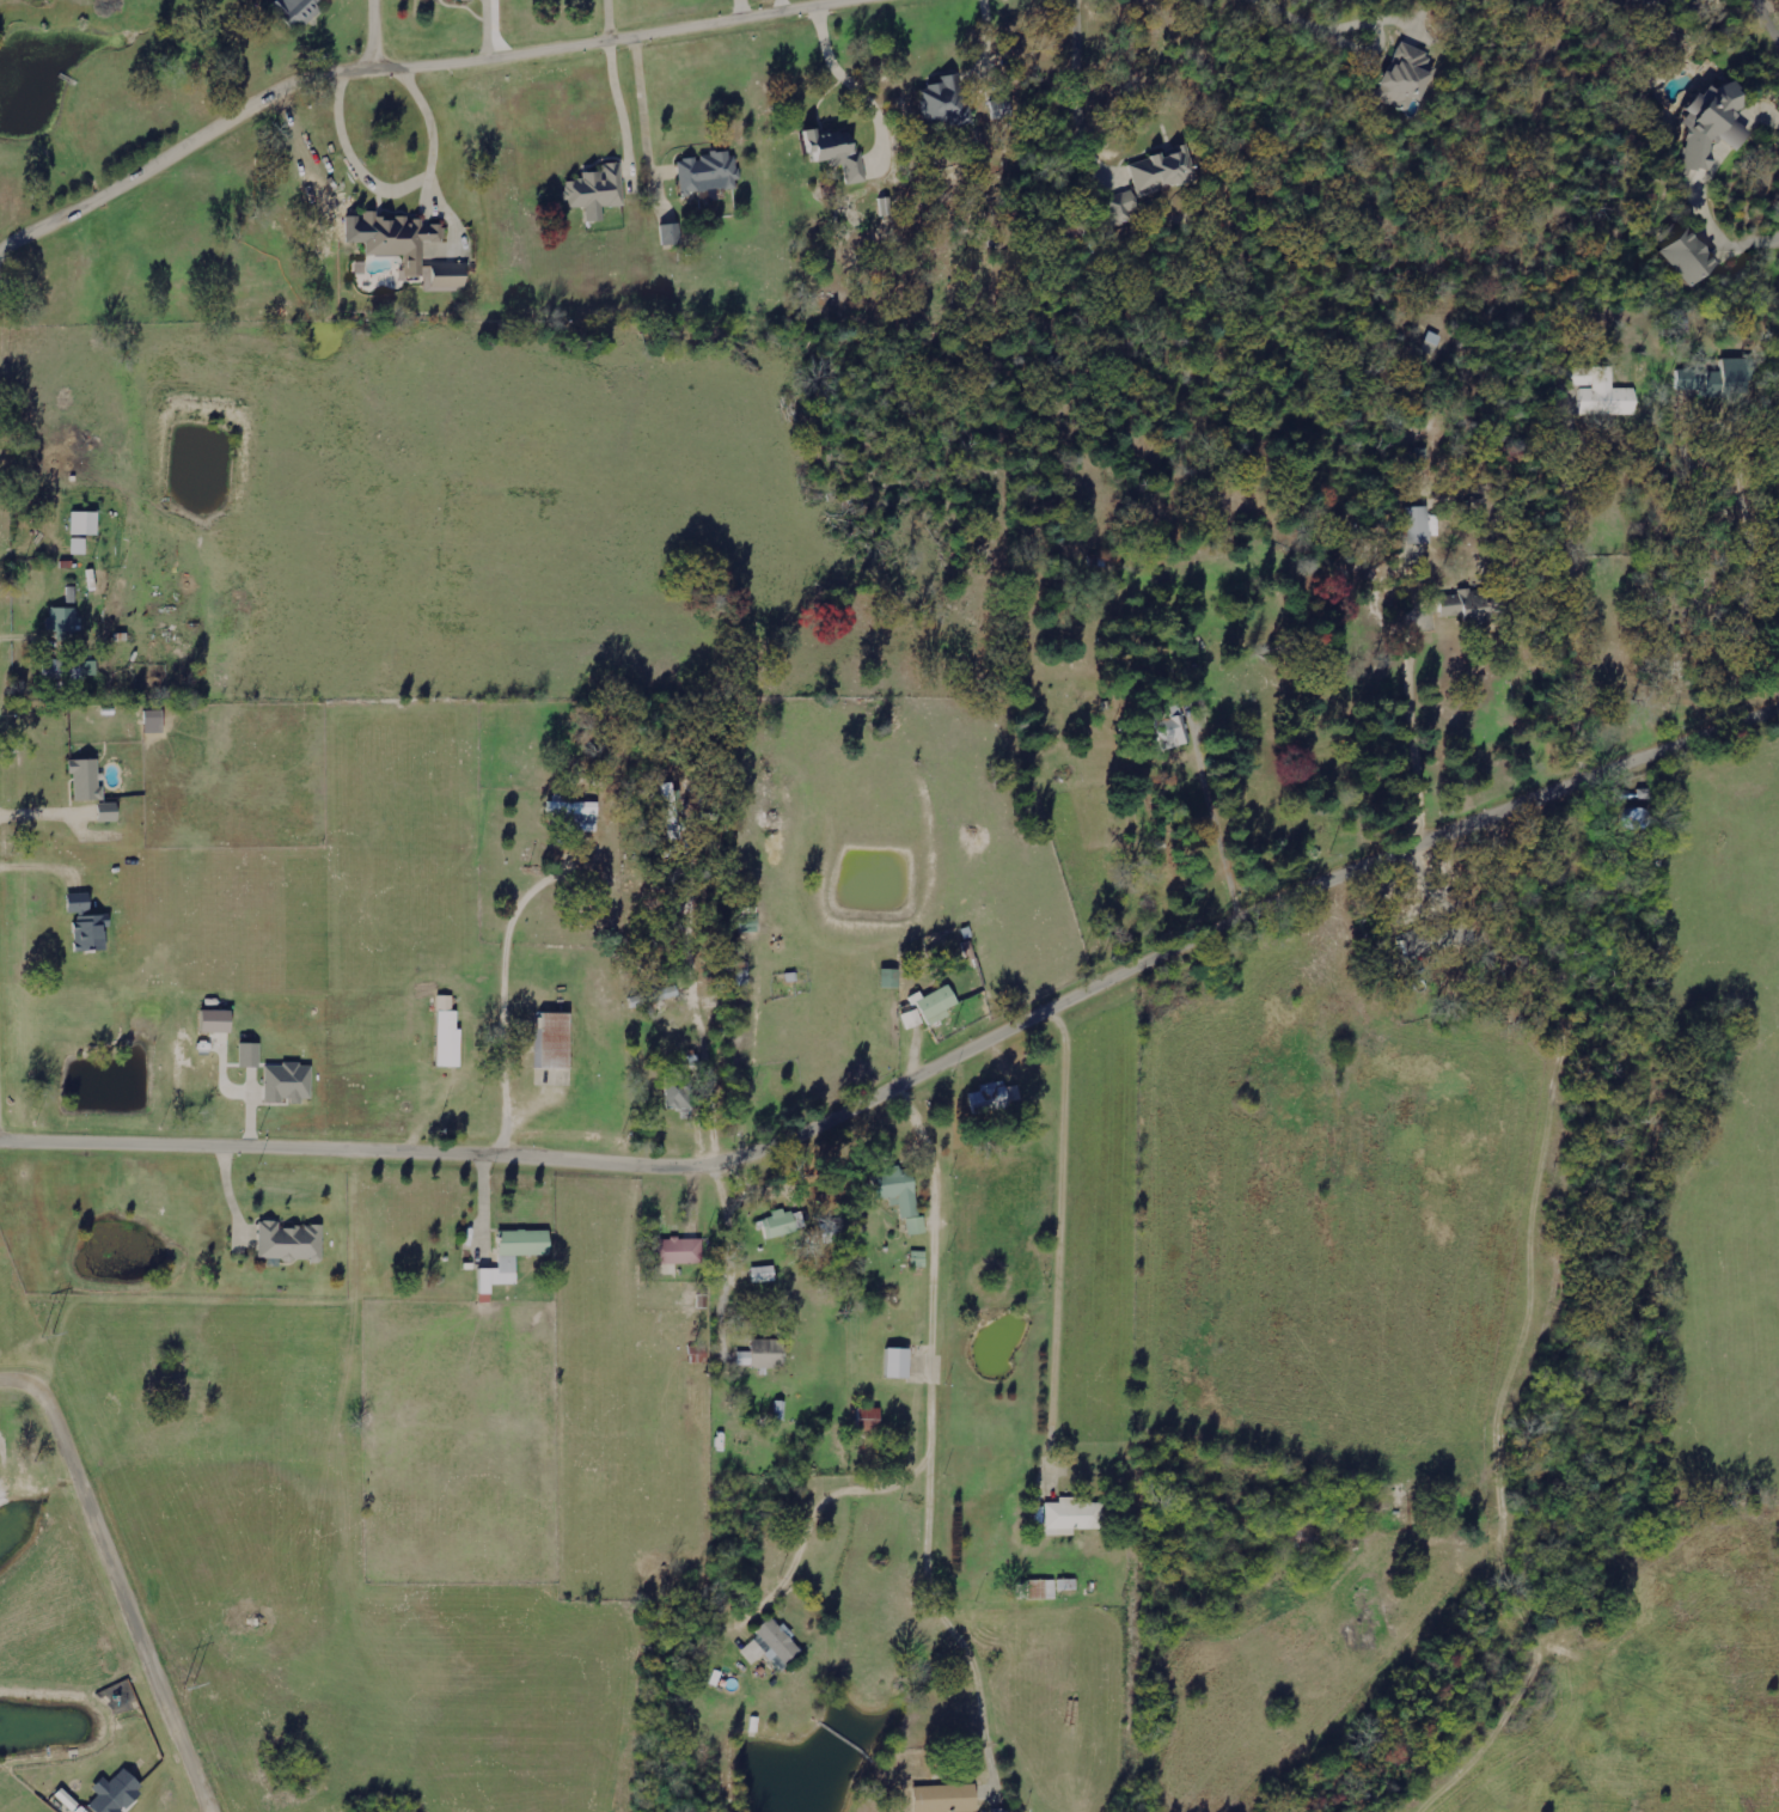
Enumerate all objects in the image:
building: (466, 0)
building: (299, 10)
road: (1766, 22)
road: (374, 32)
road: (600, 37)
building: (1407, 75)
building: (946, 102)
building: (1714, 124)
building: (838, 151)
road: (155, 166)
building: (1164, 169)
building: (709, 172)
building: (598, 190)
building: (1123, 205)
building: (672, 234)
building: (414, 249)
building: (1692, 258)
building: (1720, 378)
building: (1603, 391)
road: (1268, 395)
road: (1753, 502)
road: (919, 515)
building: (86, 521)
building: (1420, 525)
building: (80, 544)
building: (1473, 599)
building: (63, 621)
building: (69, 669)
building: (154, 720)
building: (1175, 730)
building: (87, 780)
road: (1169, 782)
building: (577, 813)
building: (110, 816)
building: (88, 923)
building: (750, 923)
road: (1178, 956)
road: (214, 968)
building: (664, 993)
building: (940, 1003)
building: (913, 1018)
building: (219, 1020)
road: (850, 1021)
road: (2, 1024)
building: (450, 1033)
building: (557, 1039)
building: (251, 1054)
building: (289, 1082)
building: (679, 1091)
road: (1184, 1091)
building: (991, 1098)
road: (439, 1157)
building: (903, 1194)
building: (783, 1222)
road: (1472, 1227)
building: (291, 1241)
building: (680, 1250)
building: (515, 1255)
building: (764, 1274)
road: (381, 1316)
building: (769, 1353)
building: (745, 1358)
building: (900, 1362)
building: (869, 1419)
building: (1074, 1515)
road: (117, 1580)
building: (1068, 1584)
building: (1043, 1588)
building: (772, 1645)
building: (117, 1793)
building: (947, 1798)
building: (68, 1799)

